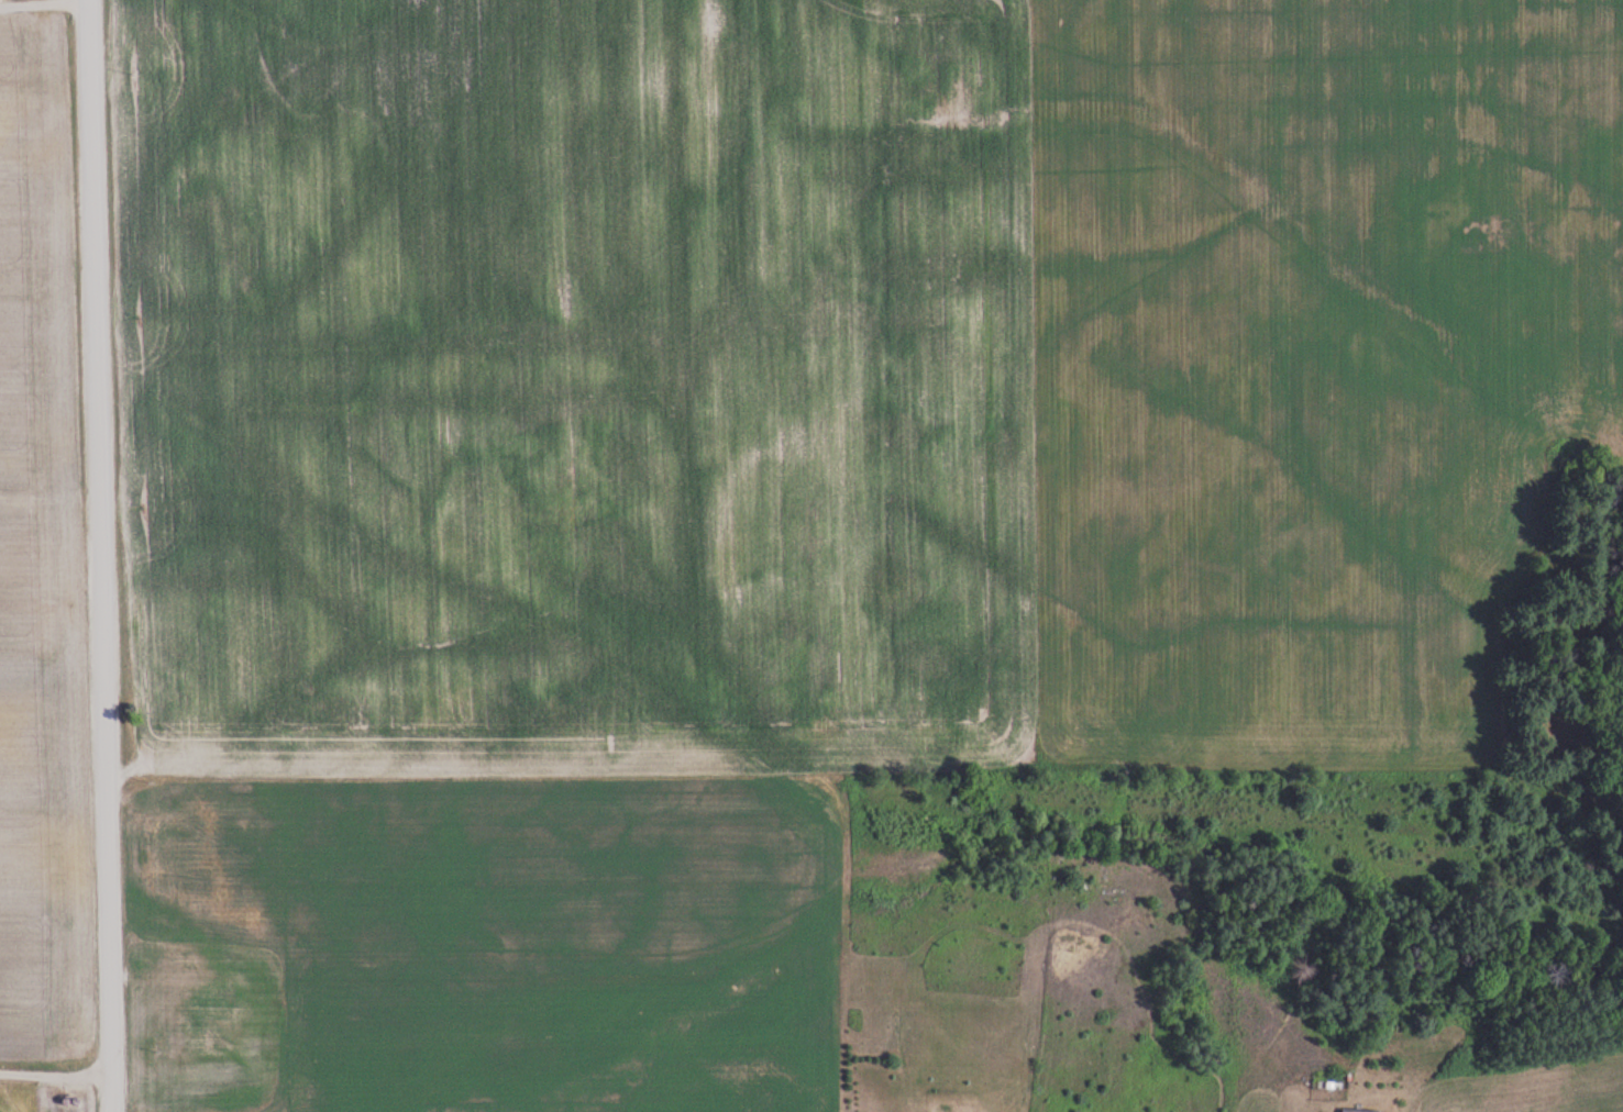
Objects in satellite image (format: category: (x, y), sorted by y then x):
road: (100, 556)
building: (198, 1010)
building: (1357, 1110)

